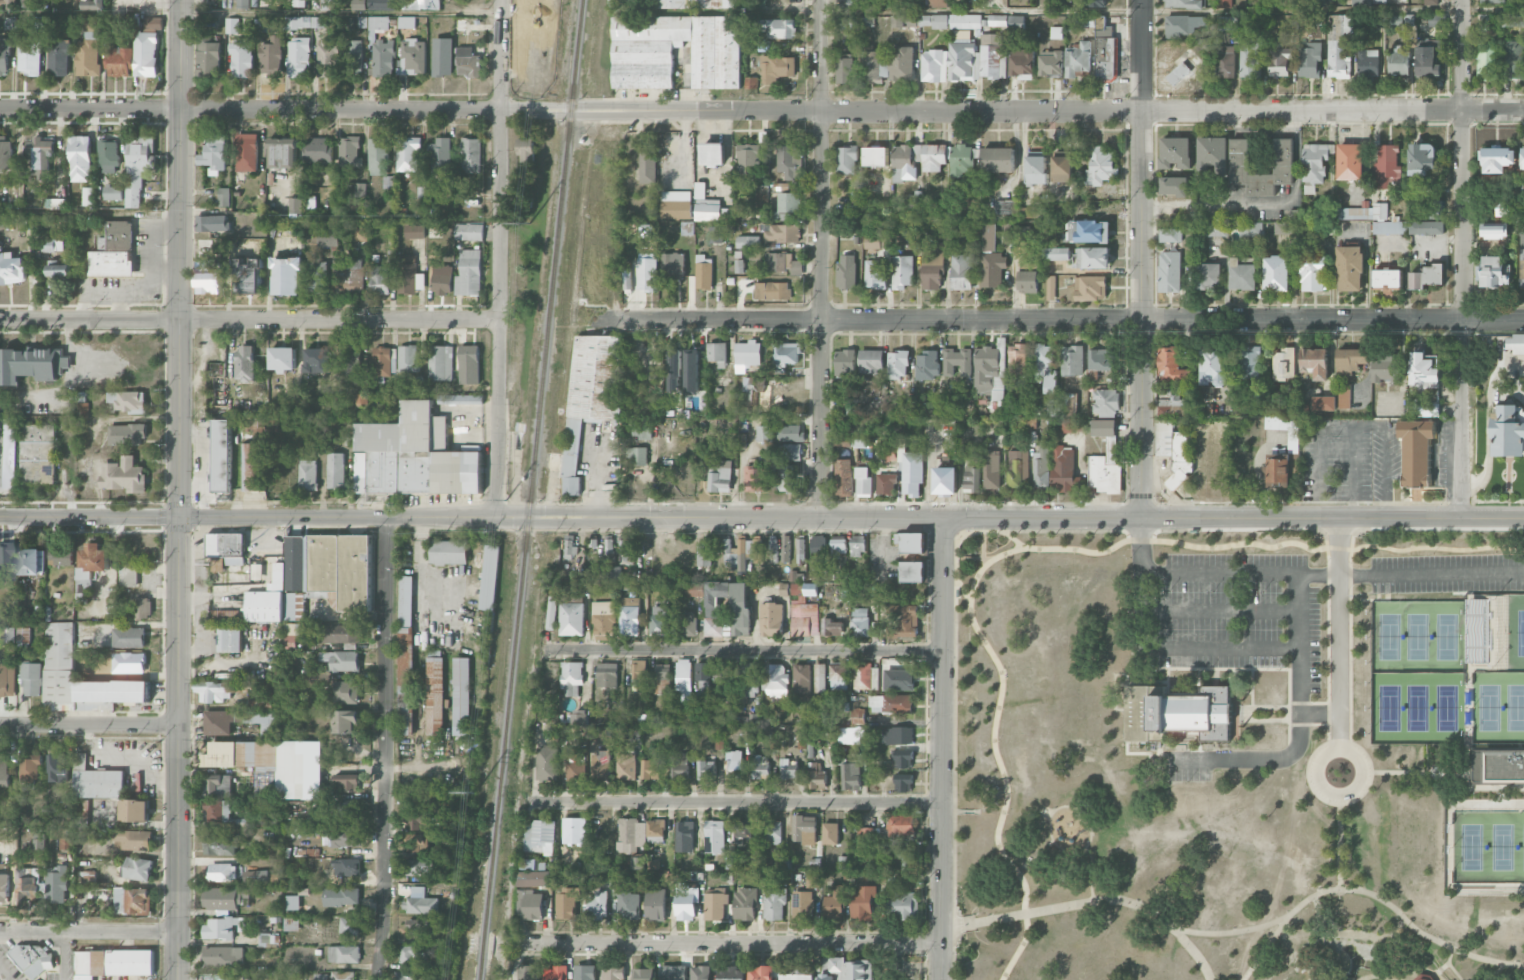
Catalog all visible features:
building: (1379, 1)
building: (1491, 1)
building: (848, 2)
building: (1365, 2)
building: (1430, 2)
building: (299, 3)
building: (937, 3)
building: (1095, 3)
building: (1183, 3)
building: (1225, 3)
building: (92, 4)
building: (242, 4)
building: (330, 4)
building: (358, 4)
building: (422, 4)
building: (679, 4)
building: (382, 5)
road: (935, 10)
road: (1287, 12)
road: (250, 13)
building: (1436, 19)
building: (1398, 20)
building: (896, 21)
building: (934, 21)
building: (964, 21)
building: (1007, 21)
building: (359, 22)
building: (406, 22)
building: (9, 23)
building: (153, 23)
building: (1225, 23)
building: (120, 24)
building: (231, 25)
building: (261, 25)
building: (377, 25)
building: (1182, 25)
building: (777, 27)
building: (208, 53)
building: (146, 54)
building: (1105, 54)
building: (4, 55)
building: (88, 55)
building: (270, 56)
building: (413, 56)
building: (991, 56)
building: (383, 57)
building: (442, 57)
building: (29, 58)
building: (58, 58)
building: (241, 58)
building: (298, 58)
building: (327, 58)
building: (353, 58)
building: (1077, 58)
building: (1248, 58)
building: (1309, 58)
building: (1514, 59)
building: (1279, 60)
building: (119, 61)
building: (962, 61)
building: (1225, 61)
building: (1426, 61)
building: (467, 62)
building: (1367, 62)
building: (1397, 62)
building: (902, 63)
building: (1021, 63)
building: (1050, 63)
building: (1486, 63)
building: (934, 66)
building: (643, 67)
building: (777, 68)
building: (843, 70)
building: (1177, 73)
building: (539, 84)
road: (761, 112)
road: (727, 122)
road: (698, 123)
road: (712, 133)
building: (525, 149)
building: (319, 150)
building: (247, 152)
building: (1175, 152)
building: (5, 153)
building: (283, 153)
building: (350, 153)
building: (713, 154)
building: (214, 155)
building: (408, 155)
building: (472, 155)
building: (1212, 155)
building: (39, 156)
building: (108, 156)
building: (379, 156)
building: (875, 156)
building: (1240, 156)
building: (440, 157)
building: (935, 157)
building: (80, 158)
building: (748, 158)
building: (1421, 158)
building: (1522, 158)
building: (847, 159)
building: (998, 159)
building: (1497, 159)
building: (962, 160)
building: (789, 161)
building: (1350, 161)
building: (906, 162)
building: (1316, 163)
building: (1101, 166)
building: (1386, 166)
building: (1036, 167)
building: (647, 168)
building: (138, 169)
building: (1063, 169)
road: (712, 178)
building: (1174, 185)
building: (113, 192)
building: (760, 194)
building: (88, 196)
building: (223, 197)
building: (55, 204)
building: (674, 204)
building: (295, 205)
building: (786, 205)
building: (1005, 207)
building: (1436, 209)
building: (1364, 212)
road: (90, 213)
building: (213, 223)
power tower: (529, 225)
building: (1389, 227)
building: (1426, 227)
building: (1284, 228)
building: (1216, 229)
building: (1250, 229)
building: (1493, 230)
building: (414, 231)
building: (1089, 231)
building: (469, 232)
building: (780, 232)
building: (715, 234)
building: (1009, 234)
building: (119, 235)
building: (1169, 235)
building: (328, 236)
building: (988, 237)
building: (748, 241)
building: (872, 241)
building: (52, 245)
building: (1056, 253)
building: (1523, 257)
road: (501, 258)
road: (821, 258)
building: (1094, 258)
road: (1139, 258)
road: (1462, 258)
building: (110, 263)
building: (784, 263)
building: (933, 264)
building: (673, 265)
building: (1350, 266)
building: (11, 268)
building: (992, 268)
building: (847, 271)
building: (902, 271)
building: (961, 271)
building: (1169, 271)
building: (647, 272)
building: (704, 272)
building: (1493, 272)
building: (469, 273)
building: (1313, 273)
building: (59, 274)
building: (875, 274)
building: (1276, 274)
building: (248, 275)
building: (286, 275)
building: (351, 275)
building: (1241, 275)
building: (208, 276)
building: (317, 276)
building: (409, 276)
building: (1209, 276)
building: (1426, 277)
building: (627, 278)
building: (442, 279)
building: (379, 280)
building: (1387, 280)
building: (1028, 282)
building: (1090, 288)
building: (772, 290)
road: (250, 320)
road: (1058, 320)
building: (1515, 343)
building: (786, 354)
building: (717, 355)
building: (747, 355)
building: (282, 358)
building: (408, 358)
building: (469, 358)
building: (1018, 358)
building: (316, 360)
building: (1074, 360)
building: (1100, 360)
building: (349, 361)
building: (380, 361)
building: (871, 361)
building: (1351, 361)
building: (957, 362)
building: (1254, 362)
building: (245, 363)
building: (441, 363)
building: (845, 363)
building: (1284, 363)
building: (1315, 363)
building: (898, 364)
building: (1172, 364)
building: (32, 365)
building: (927, 365)
building: (1214, 367)
building: (1047, 369)
building: (1387, 369)
building: (1424, 372)
building: (990, 373)
building: (753, 390)
building: (590, 394)
building: (1344, 396)
building: (878, 398)
building: (460, 399)
building: (127, 401)
building: (1105, 402)
building: (1324, 403)
building: (1063, 405)
building: (1426, 409)
road: (1356, 424)
building: (1072, 425)
building: (9, 430)
building: (642, 430)
building: (1508, 430)
building: (790, 433)
building: (126, 434)
building: (764, 434)
building: (1173, 436)
building: (861, 442)
building: (1416, 451)
building: (790, 452)
building: (36, 454)
building: (221, 454)
building: (416, 455)
building: (637, 455)
building: (1105, 458)
building: (1042, 464)
building: (1016, 466)
building: (252, 467)
building: (992, 469)
building: (1063, 469)
road: (1355, 470)
building: (334, 471)
building: (912, 473)
building: (306, 474)
building: (124, 475)
building: (843, 477)
building: (787, 478)
building: (720, 479)
building: (757, 479)
building: (972, 479)
building: (945, 480)
building: (864, 481)
building: (8, 482)
building: (886, 483)
road: (597, 485)
building: (359, 487)
road: (178, 489)
railway: (530, 489)
power tower: (505, 500)
road: (176, 505)
road: (162, 516)
road: (190, 516)
road: (1172, 516)
traffic signals: (178, 517)
road: (410, 517)
road: (383, 526)
road: (280, 527)
road: (176, 528)
road: (1430, 528)
road: (1173, 529)
road: (1261, 529)
road: (908, 530)
road: (1012, 538)
road: (1324, 538)
road: (1141, 540)
building: (817, 542)
building: (911, 542)
building: (857, 545)
building: (226, 547)
building: (570, 547)
building: (609, 547)
building: (772, 547)
road: (982, 547)
road: (1336, 547)
building: (786, 548)
building: (838, 548)
building: (626, 550)
building: (801, 550)
building: (449, 552)
building: (736, 553)
building: (704, 555)
building: (61, 556)
road: (969, 557)
building: (5, 559)
building: (32, 561)
road: (1215, 566)
building: (90, 569)
building: (911, 572)
building: (612, 573)
road: (1431, 574)
building: (314, 575)
parking lot: (1438, 576)
building: (490, 577)
building: (693, 589)
road: (962, 589)
building: (566, 591)
road: (1301, 605)
building: (714, 607)
building: (143, 608)
building: (740, 610)
building: (803, 610)
building: (630, 616)
parking lot: (1249, 618)
building: (572, 619)
building: (771, 619)
building: (604, 620)
building: (660, 620)
building: (860, 622)
building: (687, 623)
building: (906, 623)
building: (832, 626)
road: (1338, 626)
building: (1478, 631)
building: (292, 633)
stadium: (1494, 633)
building: (339, 634)
park: (1517, 634)
building: (7, 635)
building: (23, 637)
building: (128, 637)
building: (230, 639)
road: (1237, 643)
road: (744, 650)
road: (926, 650)
building: (60, 651)
building: (405, 655)
building: (341, 660)
building: (127, 663)
road: (954, 667)
building: (607, 675)
building: (639, 675)
building: (749, 676)
building: (866, 676)
building: (820, 677)
building: (838, 677)
building: (7, 678)
building: (572, 678)
building: (662, 678)
building: (703, 678)
building: (32, 679)
building: (899, 679)
building: (684, 680)
building: (776, 681)
park: (1437, 681)
building: (802, 683)
building: (233, 688)
building: (346, 692)
building: (435, 693)
building: (461, 696)
road: (1000, 699)
building: (890, 703)
building: (267, 705)
building: (1176, 711)
building: (857, 715)
building: (581, 717)
building: (262, 721)
building: (345, 721)
building: (219, 722)
road: (89, 727)
road: (926, 732)
building: (851, 735)
building: (895, 735)
road: (1338, 739)
road: (384, 748)
road: (942, 748)
road: (1254, 754)
park: (1240, 755)
building: (903, 759)
building: (734, 760)
building: (266, 761)
building: (547, 763)
building: (601, 765)
building: (626, 765)
building: (680, 765)
building: (1497, 766)
building: (30, 767)
building: (58, 767)
building: (759, 767)
building: (650, 768)
building: (789, 768)
building: (4, 769)
building: (706, 770)
building: (575, 771)
road: (1433, 772)
building: (851, 775)
building: (816, 776)
building: (97, 780)
building: (903, 782)
building: (345, 783)
road: (1488, 786)
building: (218, 787)
power tower: (475, 791)
road: (735, 800)
road: (926, 800)
road: (1486, 804)
building: (346, 808)
building: (135, 810)
building: (217, 812)
building: (421, 822)
building: (901, 824)
building: (574, 829)
building: (804, 829)
building: (656, 830)
building: (742, 831)
building: (773, 832)
building: (830, 833)
building: (630, 834)
building: (684, 835)
building: (867, 835)
building: (346, 836)
building: (539, 836)
building: (714, 836)
building: (133, 840)
building: (417, 842)
building: (64, 843)
building: (219, 845)
park: (1488, 845)
road: (1340, 850)
building: (638, 862)
building: (420, 866)
building: (348, 867)
building: (137, 868)
building: (224, 872)
road: (925, 873)
building: (256, 876)
building: (533, 878)
building: (812, 880)
building: (26, 884)
building: (56, 885)
building: (4, 887)
building: (340, 896)
building: (224, 898)
building: (121, 899)
building: (140, 901)
building: (862, 901)
building: (292, 902)
building: (421, 902)
building: (686, 902)
building: (567, 903)
building: (836, 903)
building: (530, 904)
building: (656, 904)
building: (715, 904)
building: (745, 904)
building: (774, 904)
building: (598, 905)
building: (629, 905)
building: (803, 905)
building: (902, 906)
road: (1152, 914)
building: (291, 924)
building: (347, 926)
building: (223, 927)
building: (418, 927)
road: (89, 932)
road: (1427, 936)
road: (1315, 939)
building: (267, 940)
road: (925, 941)
road: (732, 943)
road: (1392, 947)
road: (1263, 950)
road: (739, 952)
road: (1199, 953)
building: (343, 954)
building: (407, 954)
building: (223, 956)
building: (33, 960)
building: (113, 963)
building: (849, 970)
building: (528, 972)
building: (556, 972)
building: (584, 972)
building: (612, 972)
building: (673, 972)
building: (700, 972)
building: (761, 972)
building: (797, 972)
building: (730, 973)
building: (643, 974)
building: (342, 975)
building: (405, 975)
road: (1511, 975)
building: (320, 976)
building: (1424, 977)

